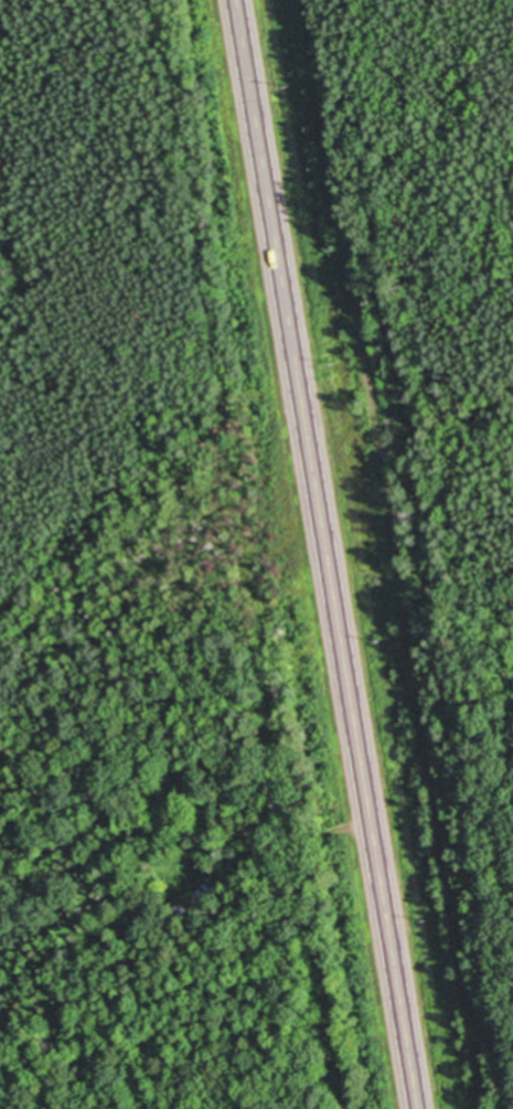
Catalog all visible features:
road: (331, 554)
building: (206, 897)
building: (180, 909)

